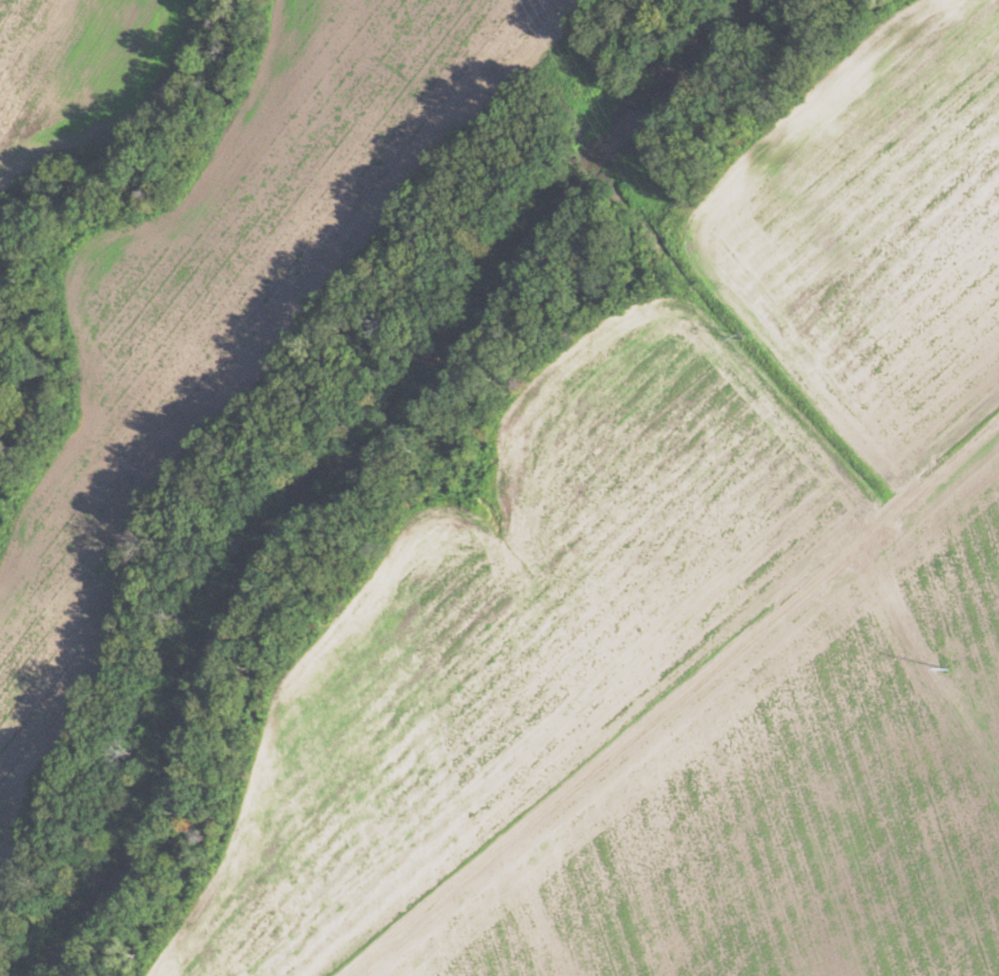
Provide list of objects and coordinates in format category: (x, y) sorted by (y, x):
river: (352, 463)
power tower: (951, 669)
road: (669, 699)

